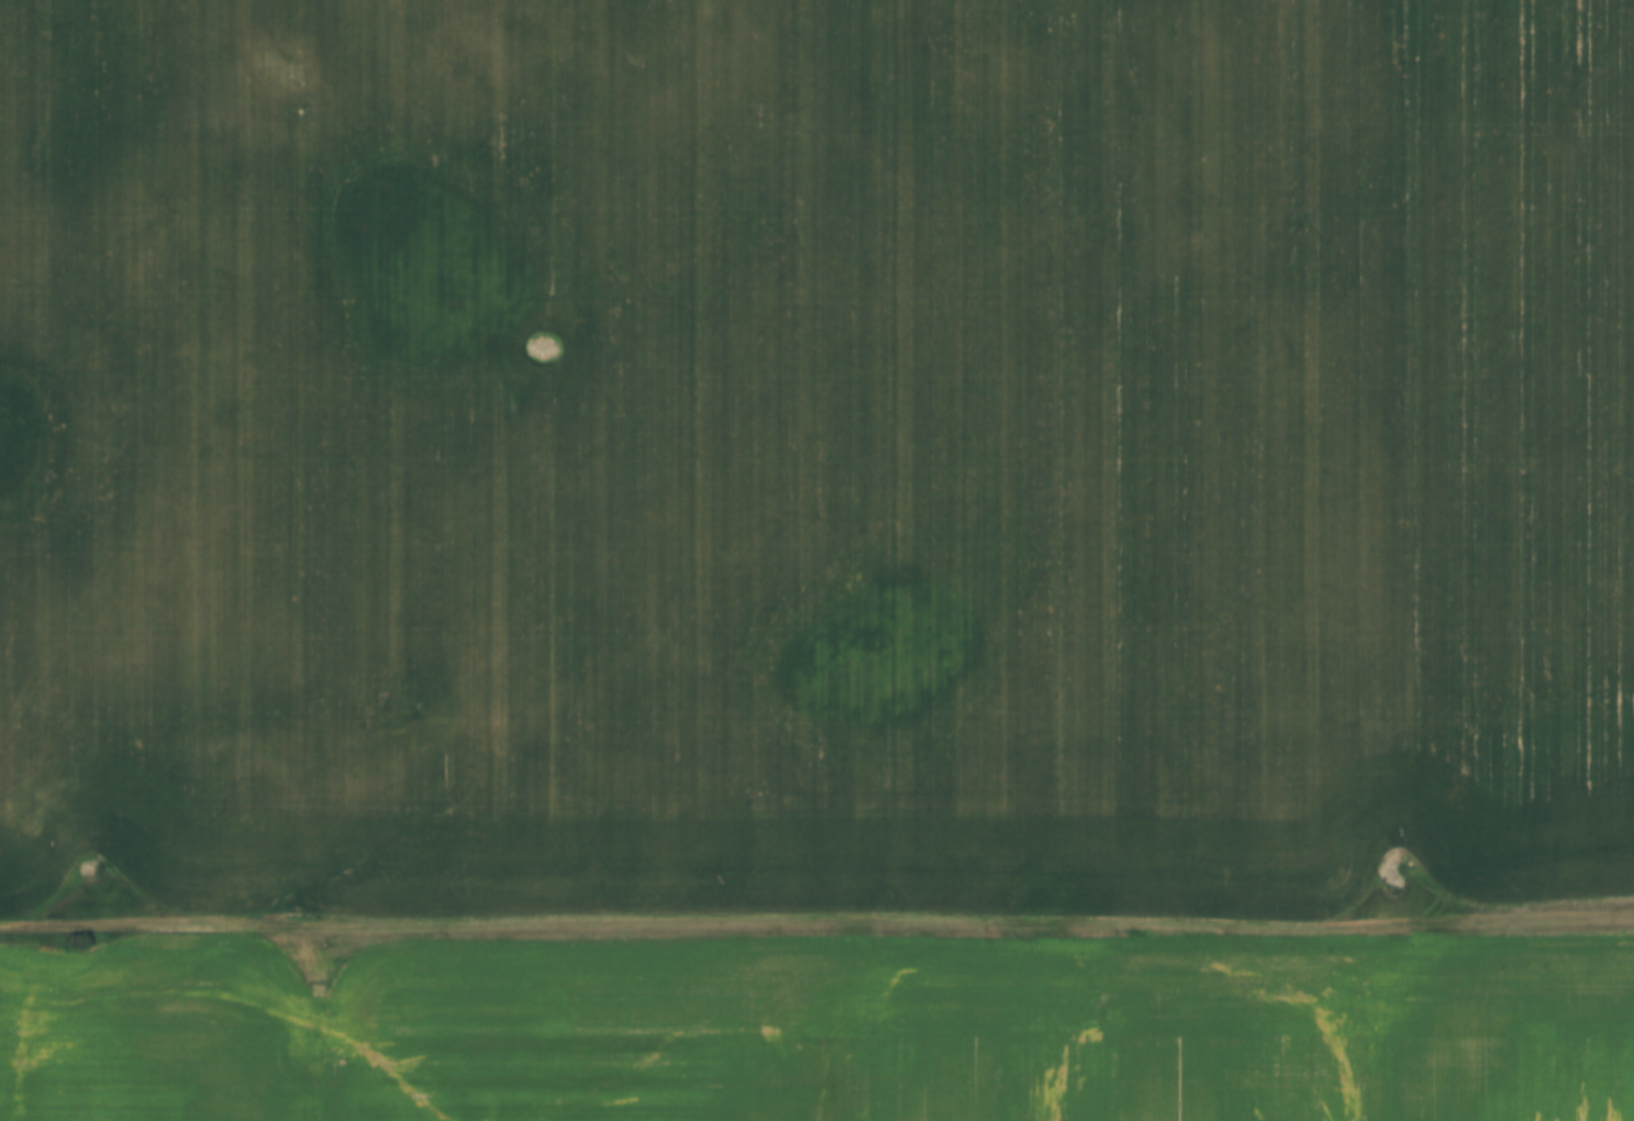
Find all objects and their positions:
road: (815, 914)

